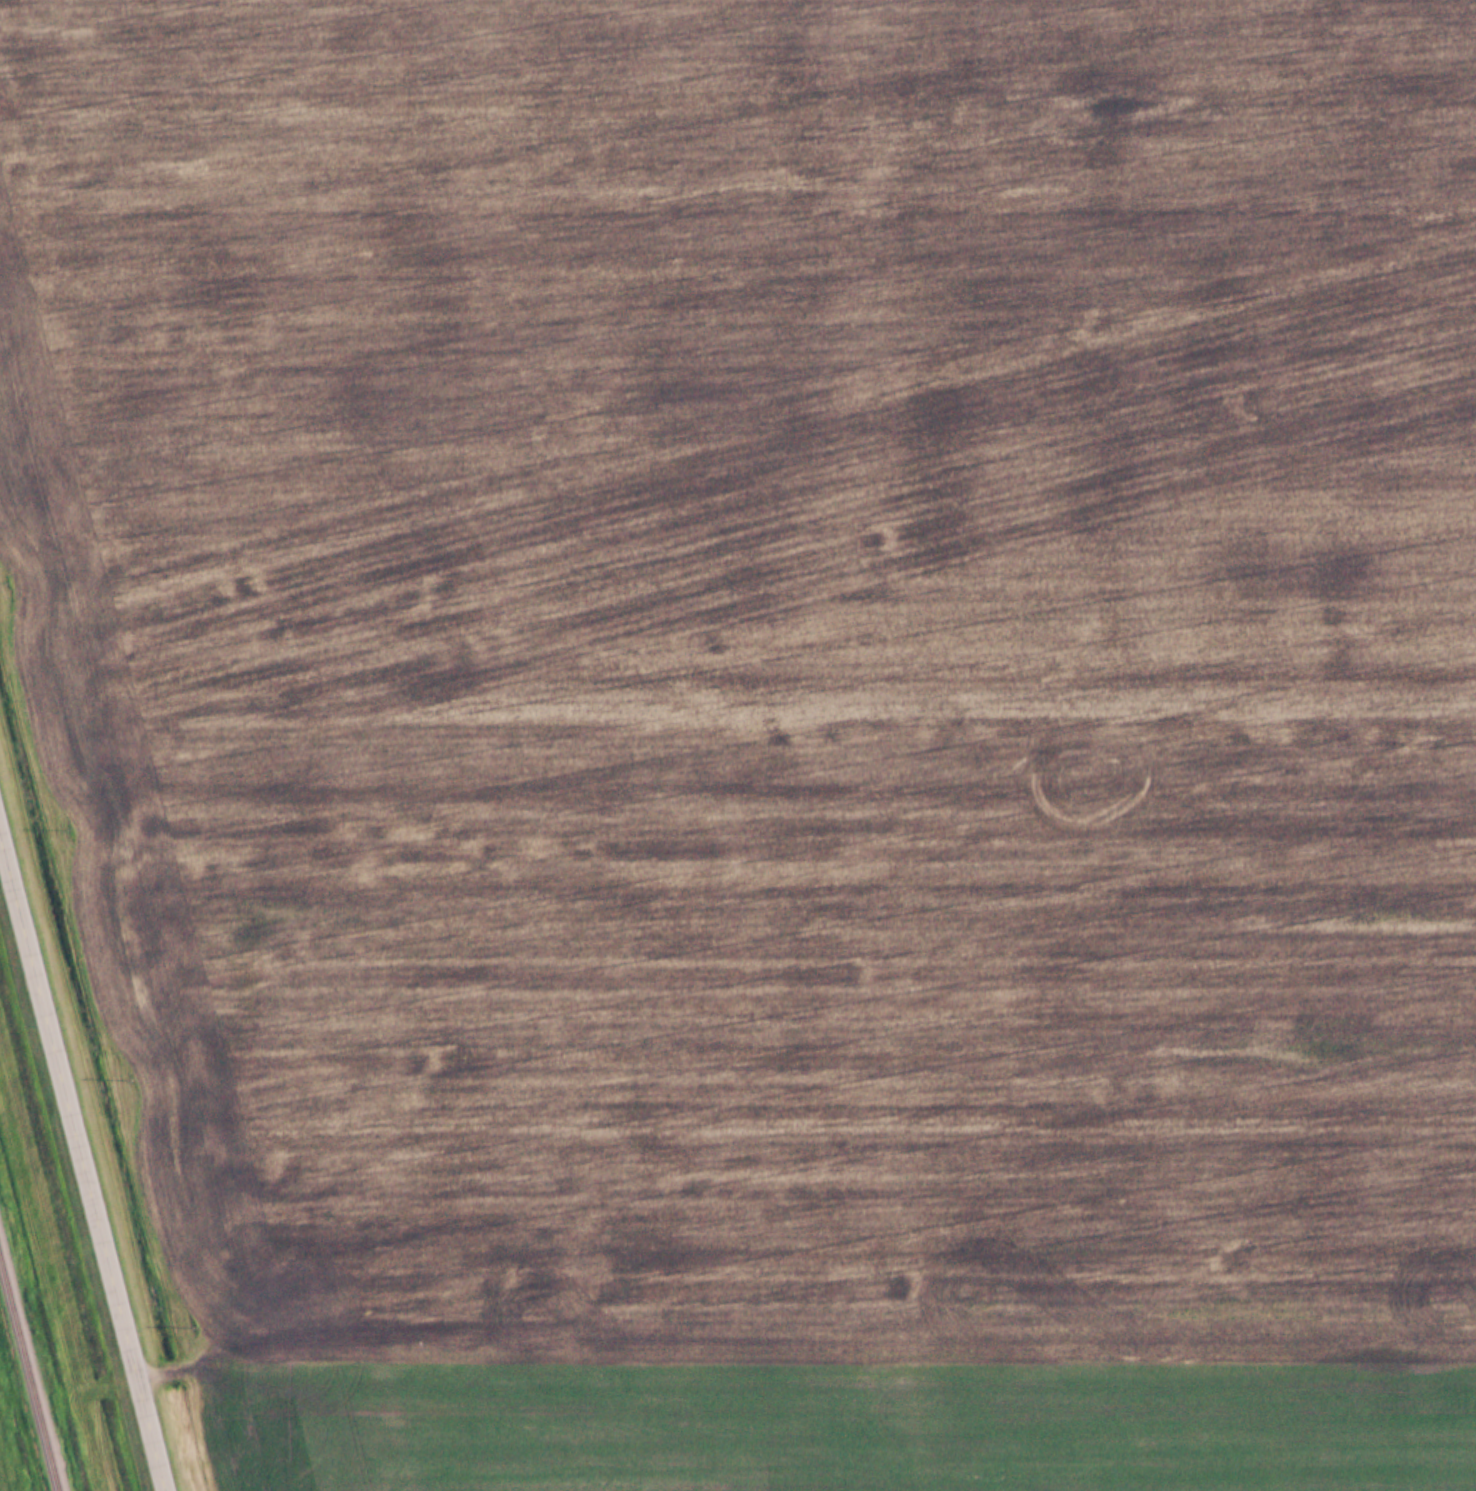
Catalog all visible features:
crop: (765, 668)
road: (85, 1166)
railway: (28, 1378)
crop: (842, 1431)

